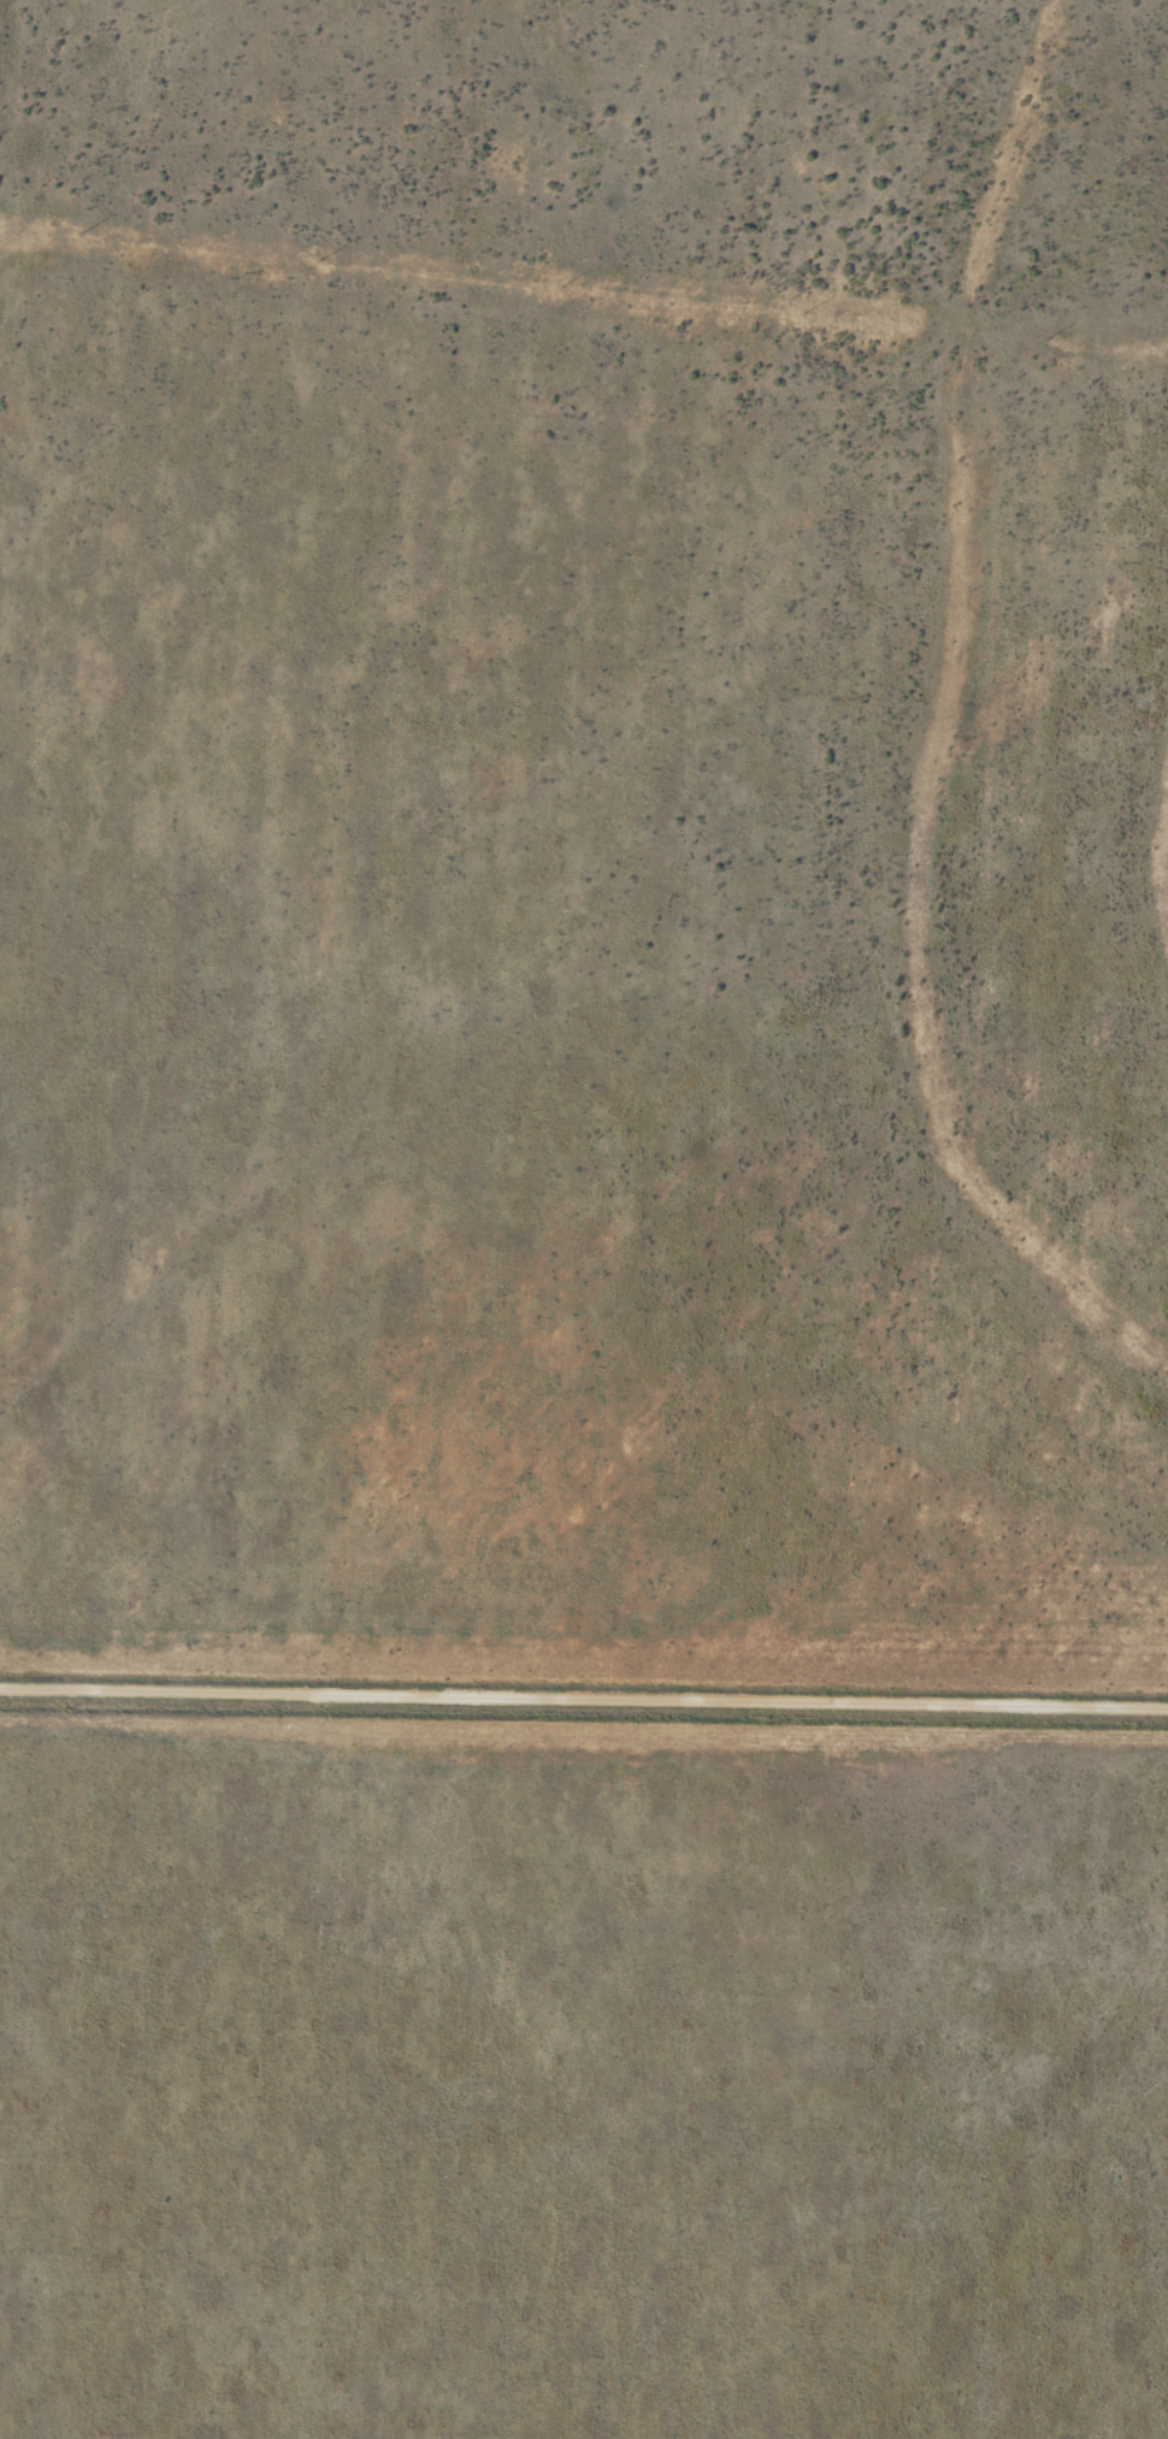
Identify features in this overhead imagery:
road: (584, 1709)

